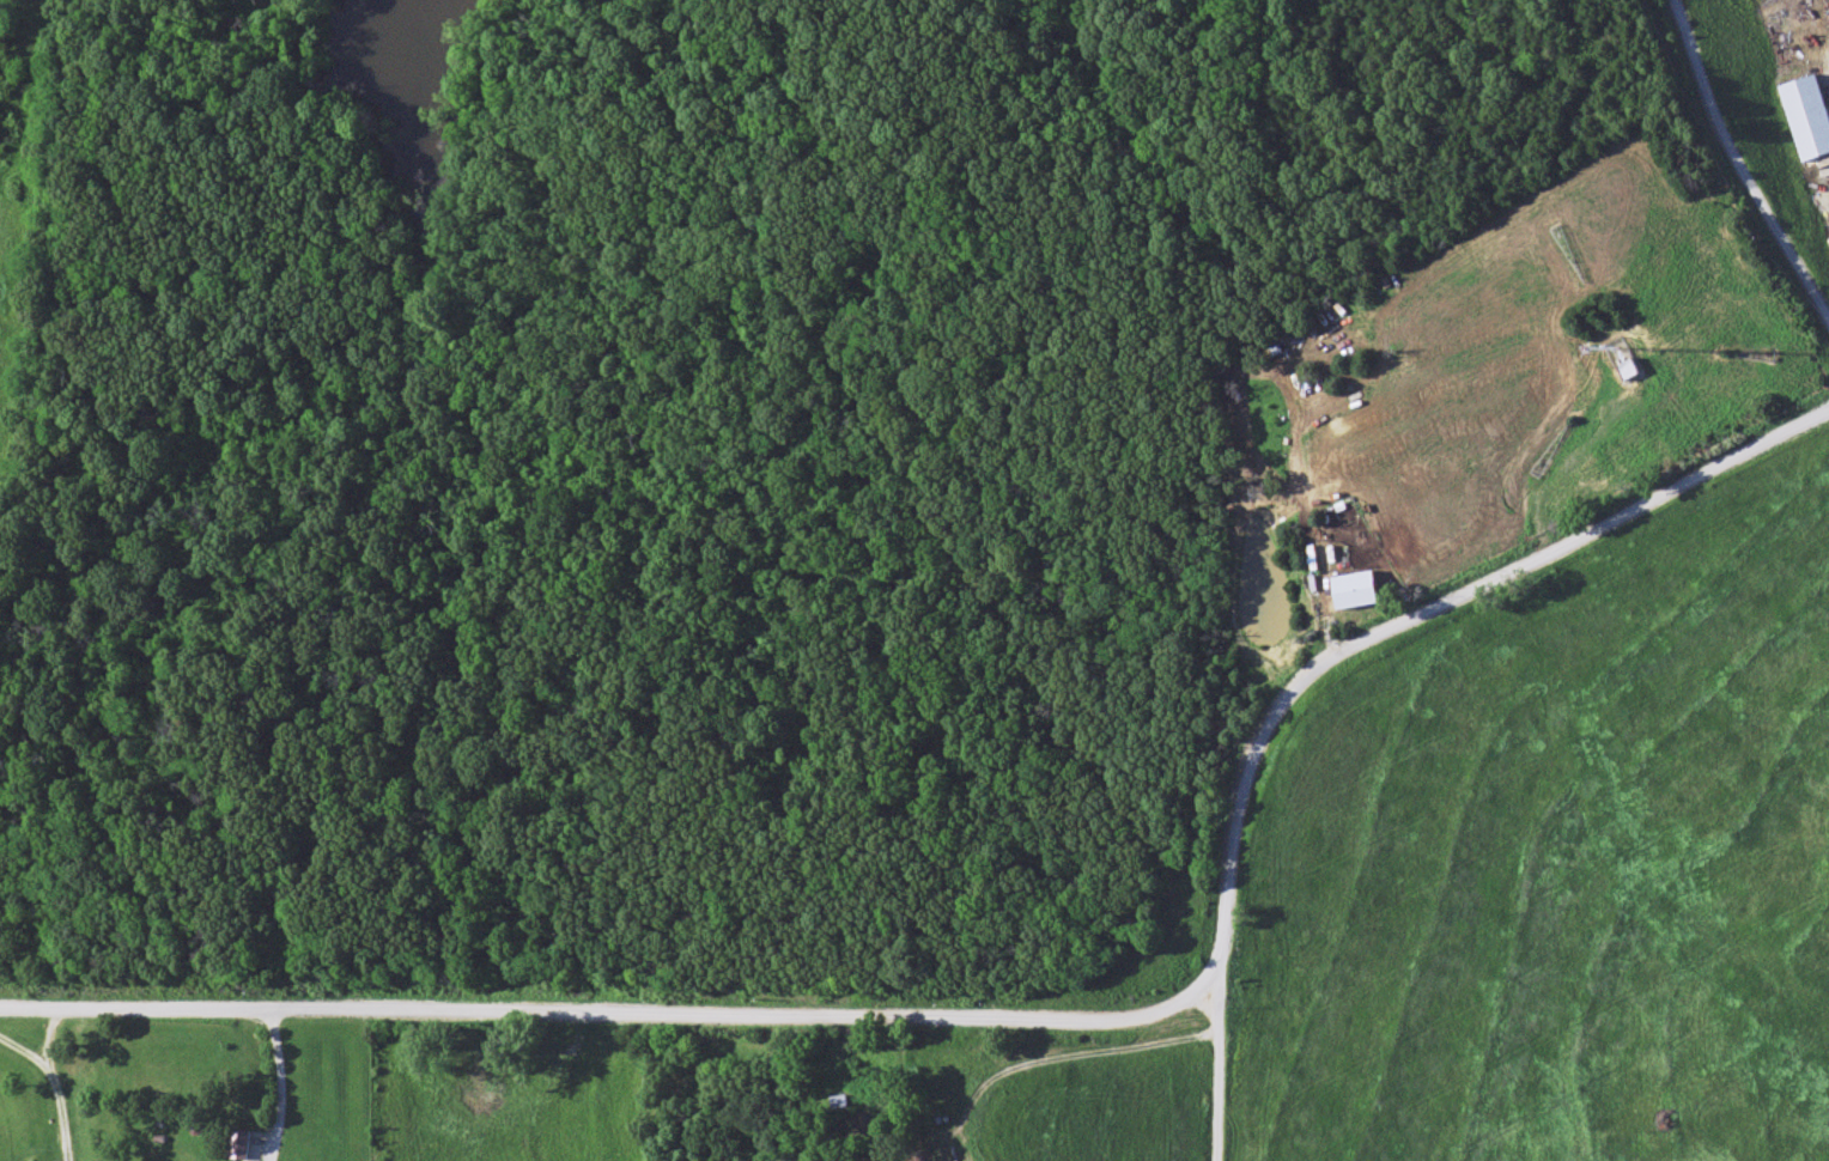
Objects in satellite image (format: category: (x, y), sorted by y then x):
road: (1736, 171)
road: (284, 615)
road: (1410, 622)
road: (597, 1002)
road: (48, 1027)
road: (53, 1070)
road: (282, 1081)
road: (1198, 1082)

